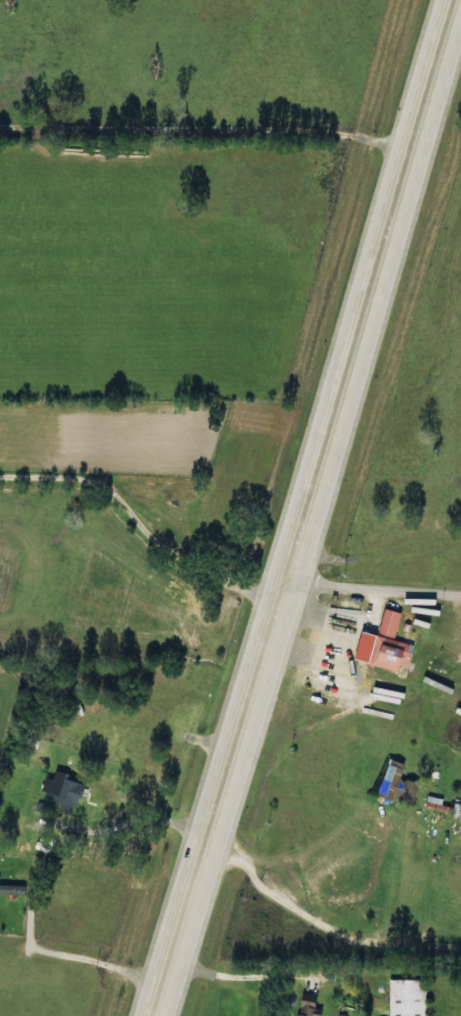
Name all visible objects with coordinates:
road: (305, 508)
road: (373, 584)
building: (388, 623)
building: (396, 784)
building: (62, 789)
building: (11, 887)
building: (405, 998)
building: (307, 1008)

